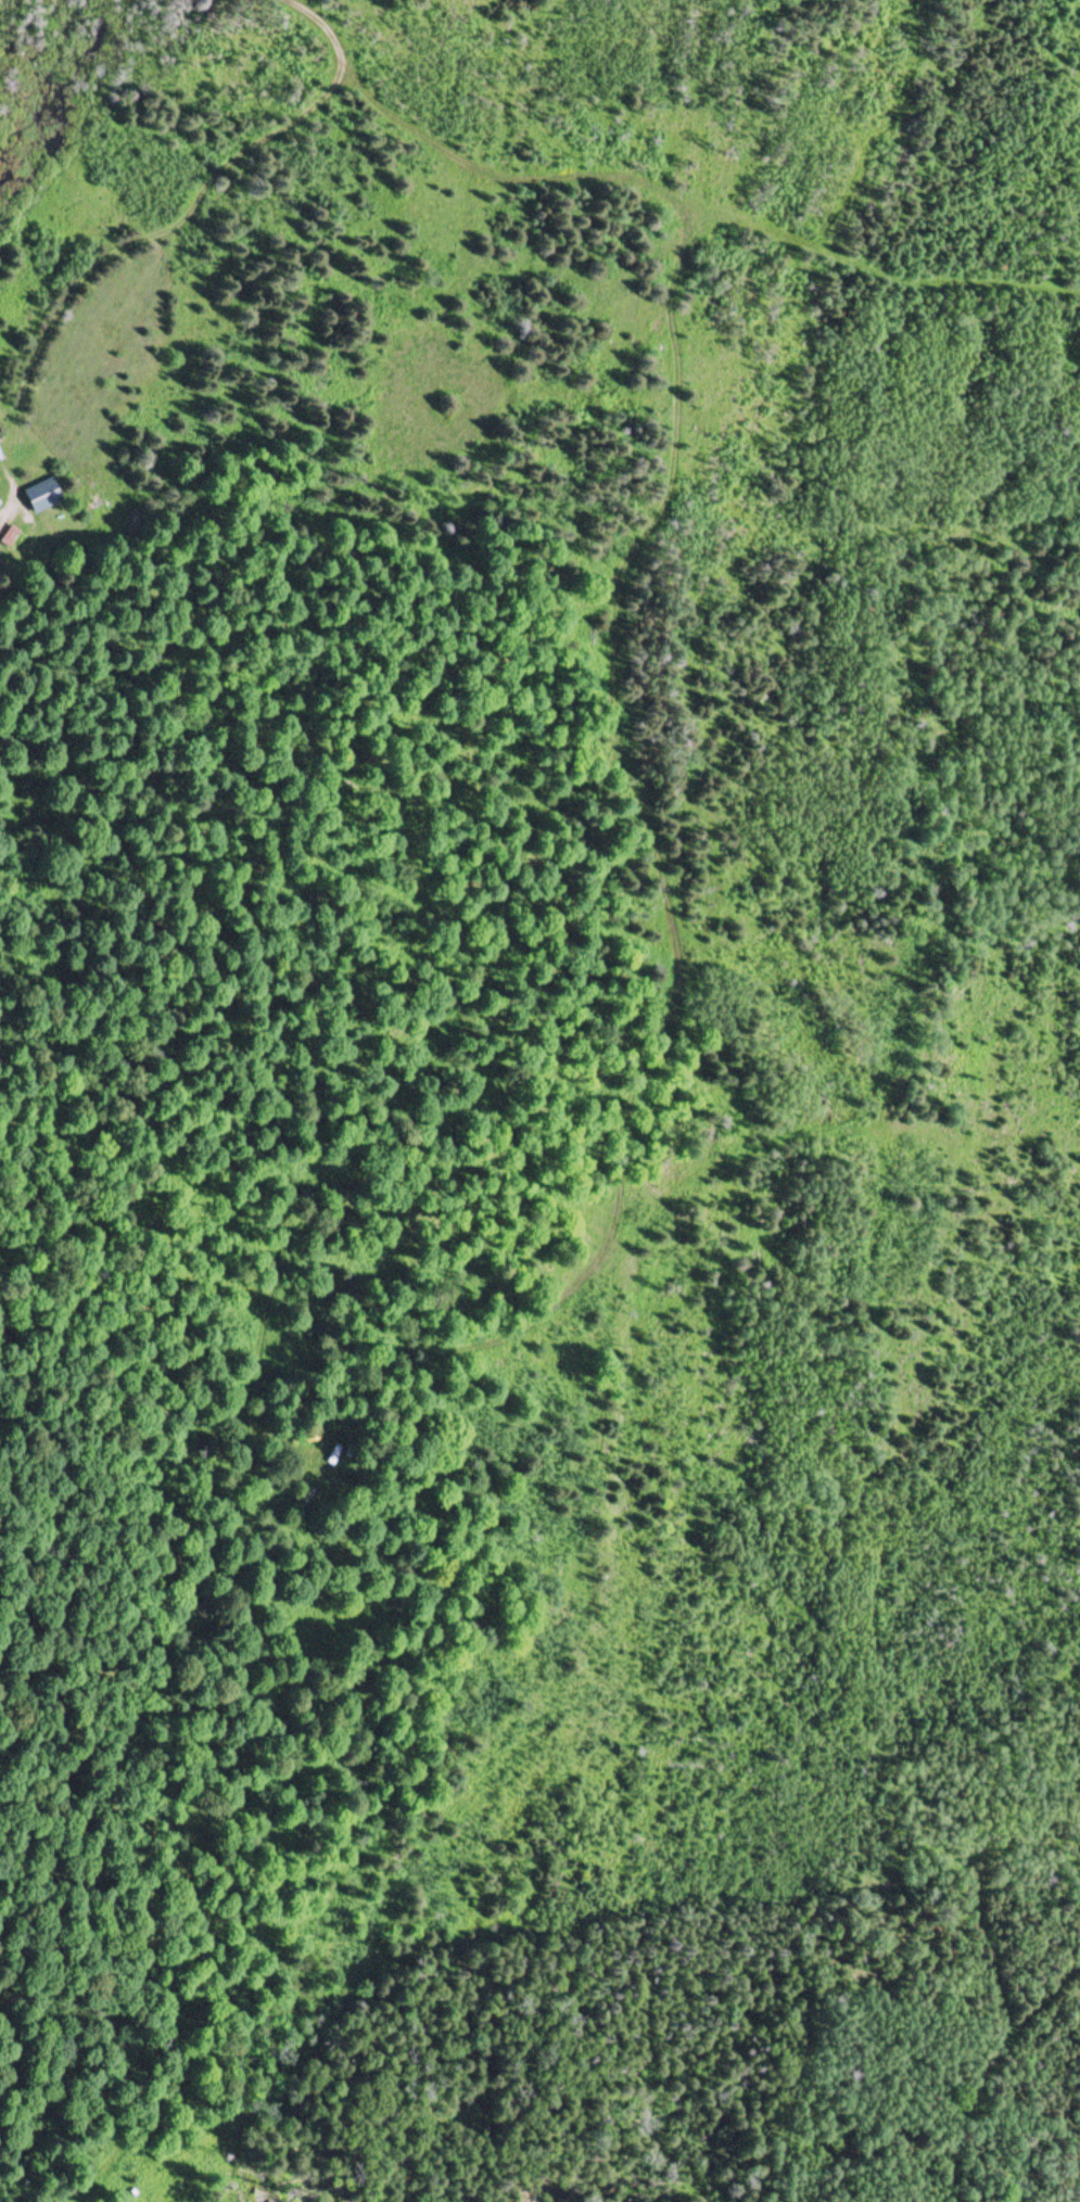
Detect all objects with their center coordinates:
building: (0, 457)
building: (43, 497)
building: (0, 502)

